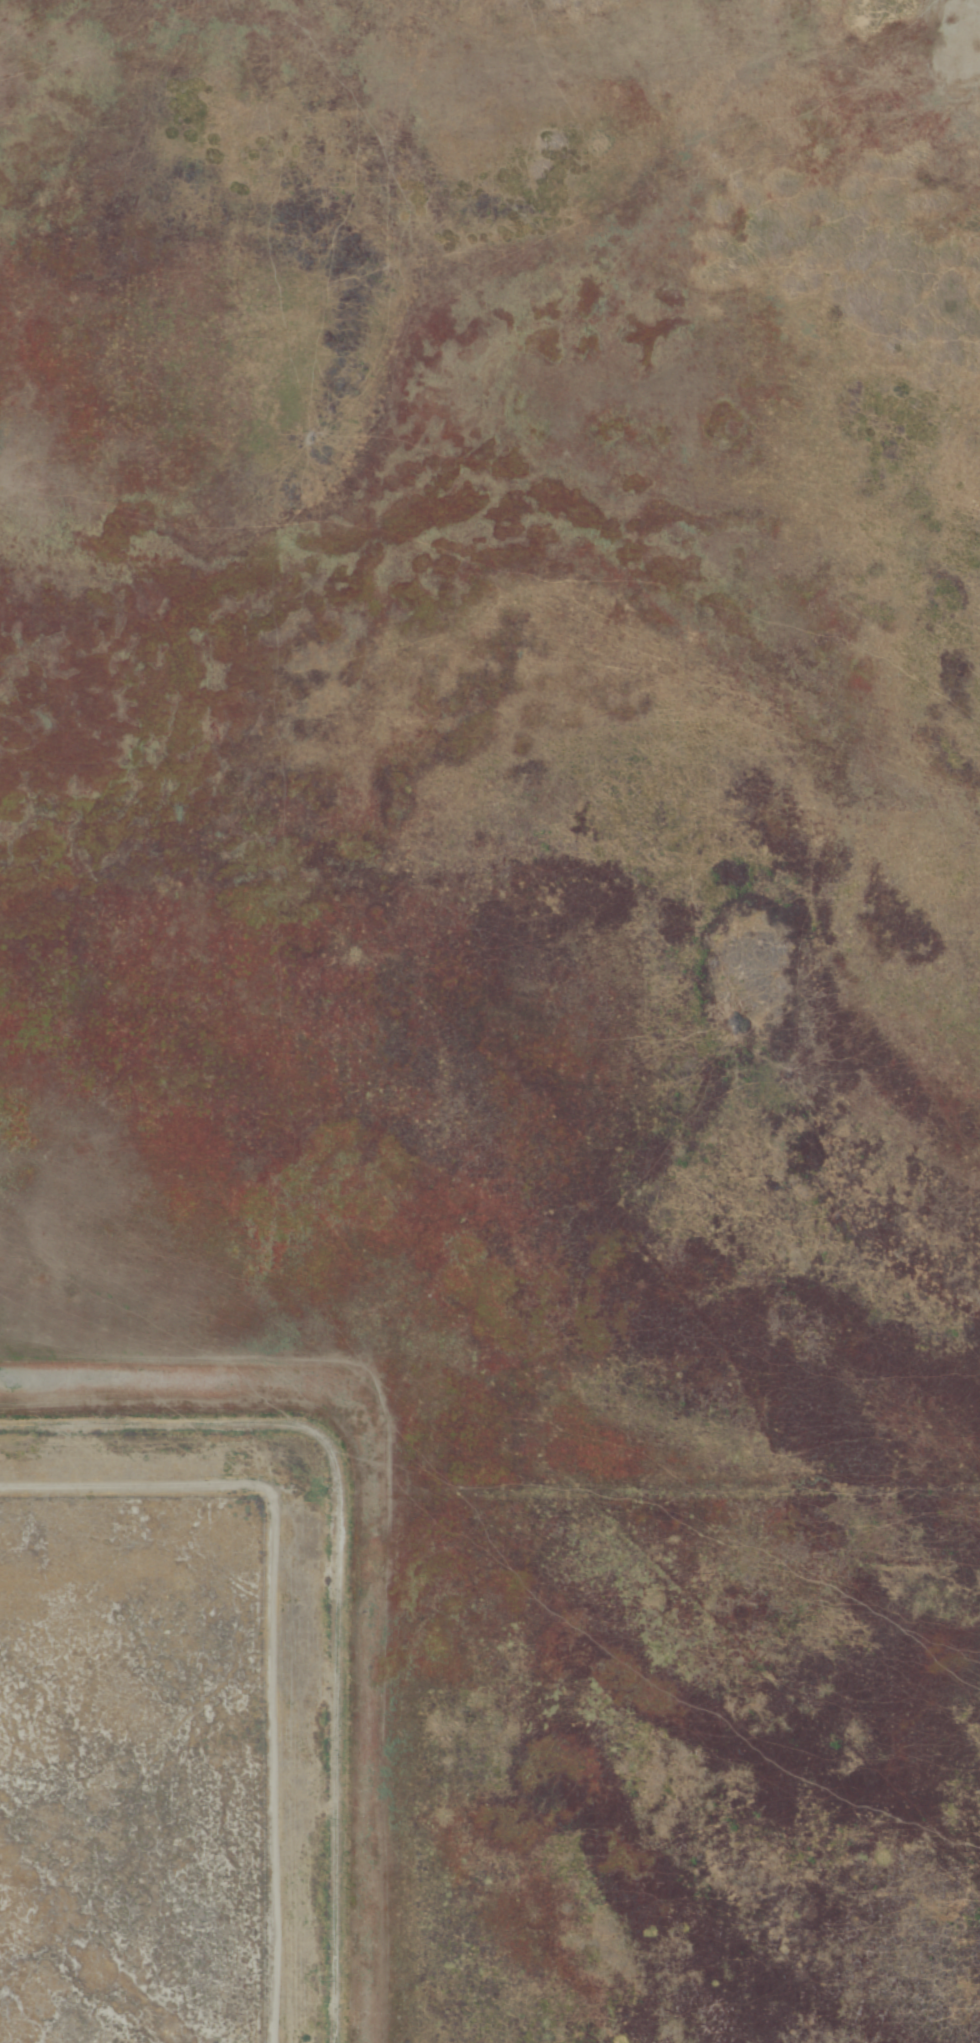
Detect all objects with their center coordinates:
crop: (520, 957)

